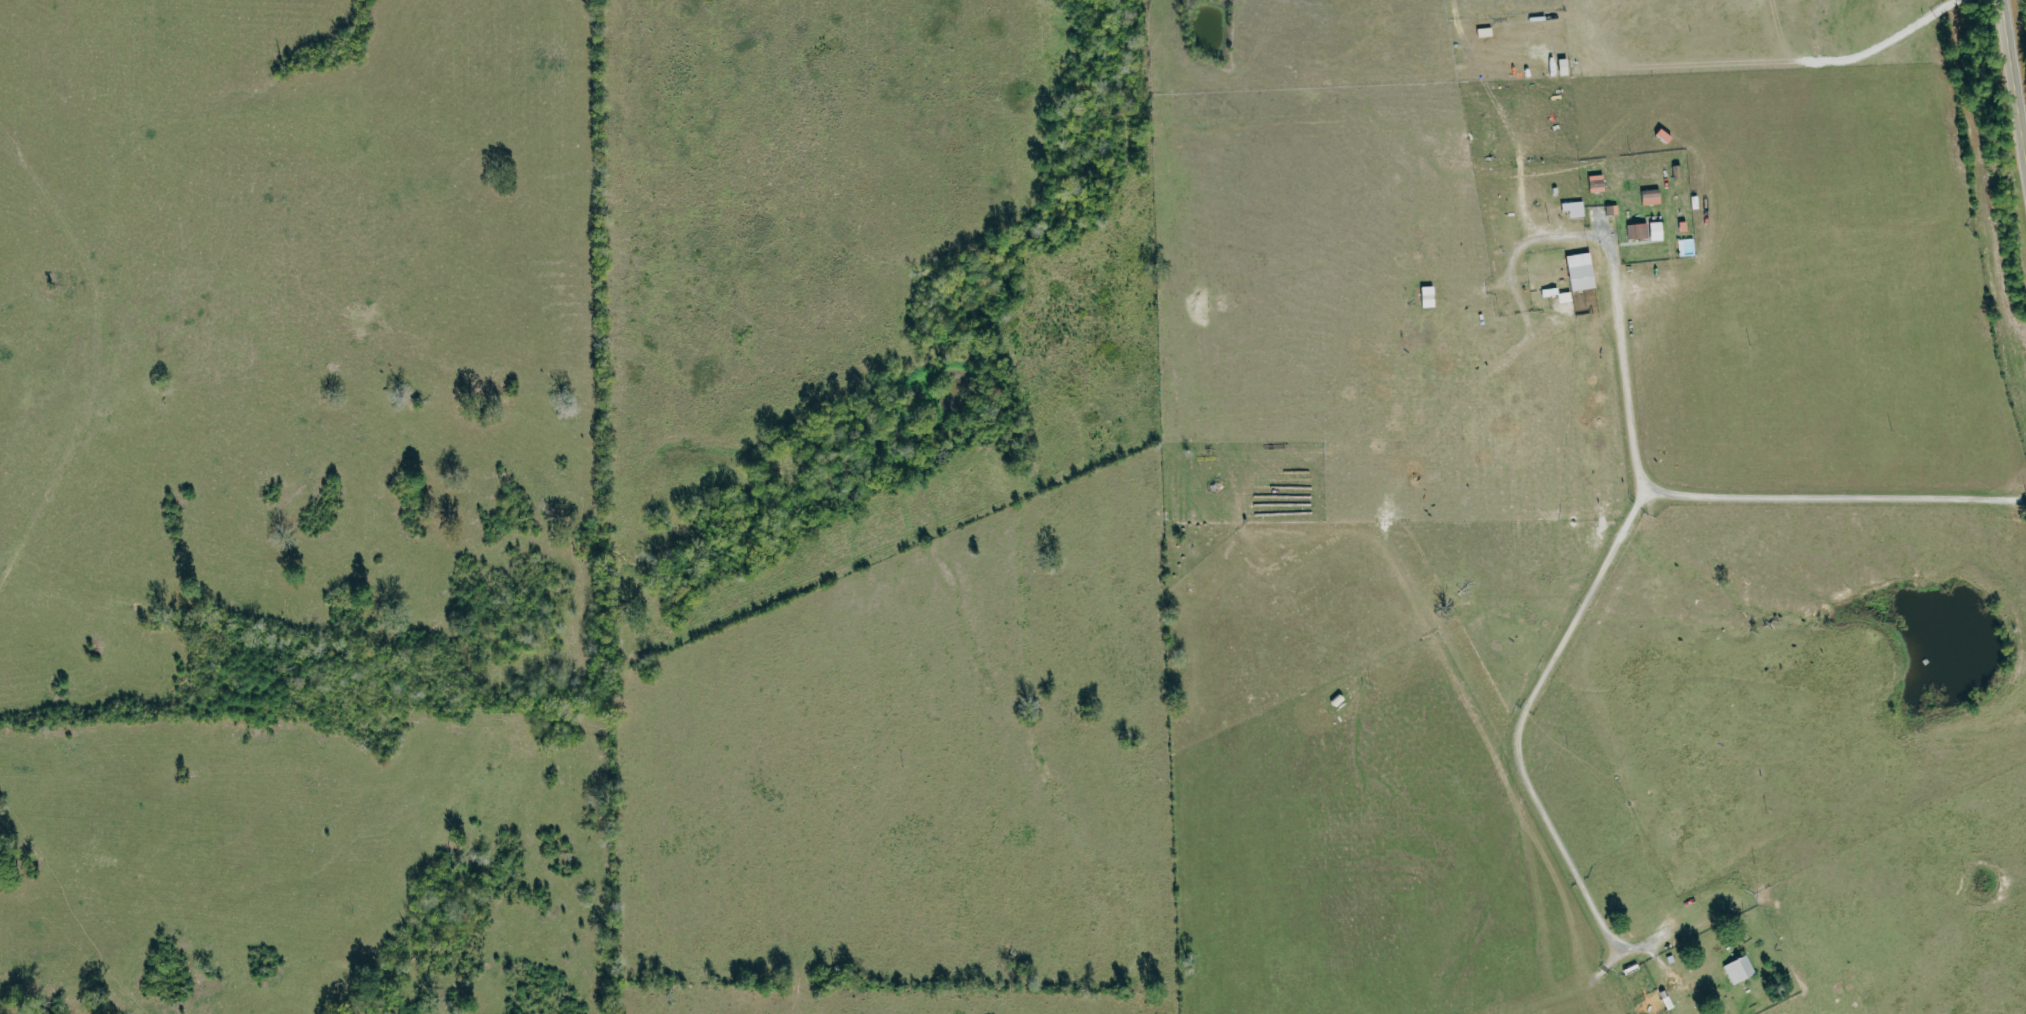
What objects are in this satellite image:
road: (2012, 83)
building: (1649, 197)
building: (1572, 209)
building: (1610, 210)
building: (1681, 226)
building: (1645, 231)
building: (1578, 271)
building: (1737, 969)

